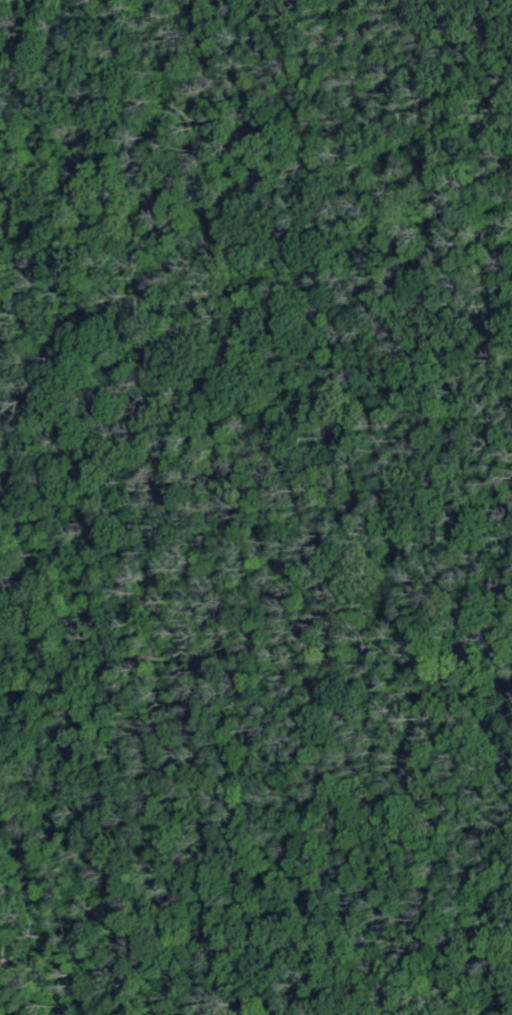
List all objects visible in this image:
park: (256, 507)

